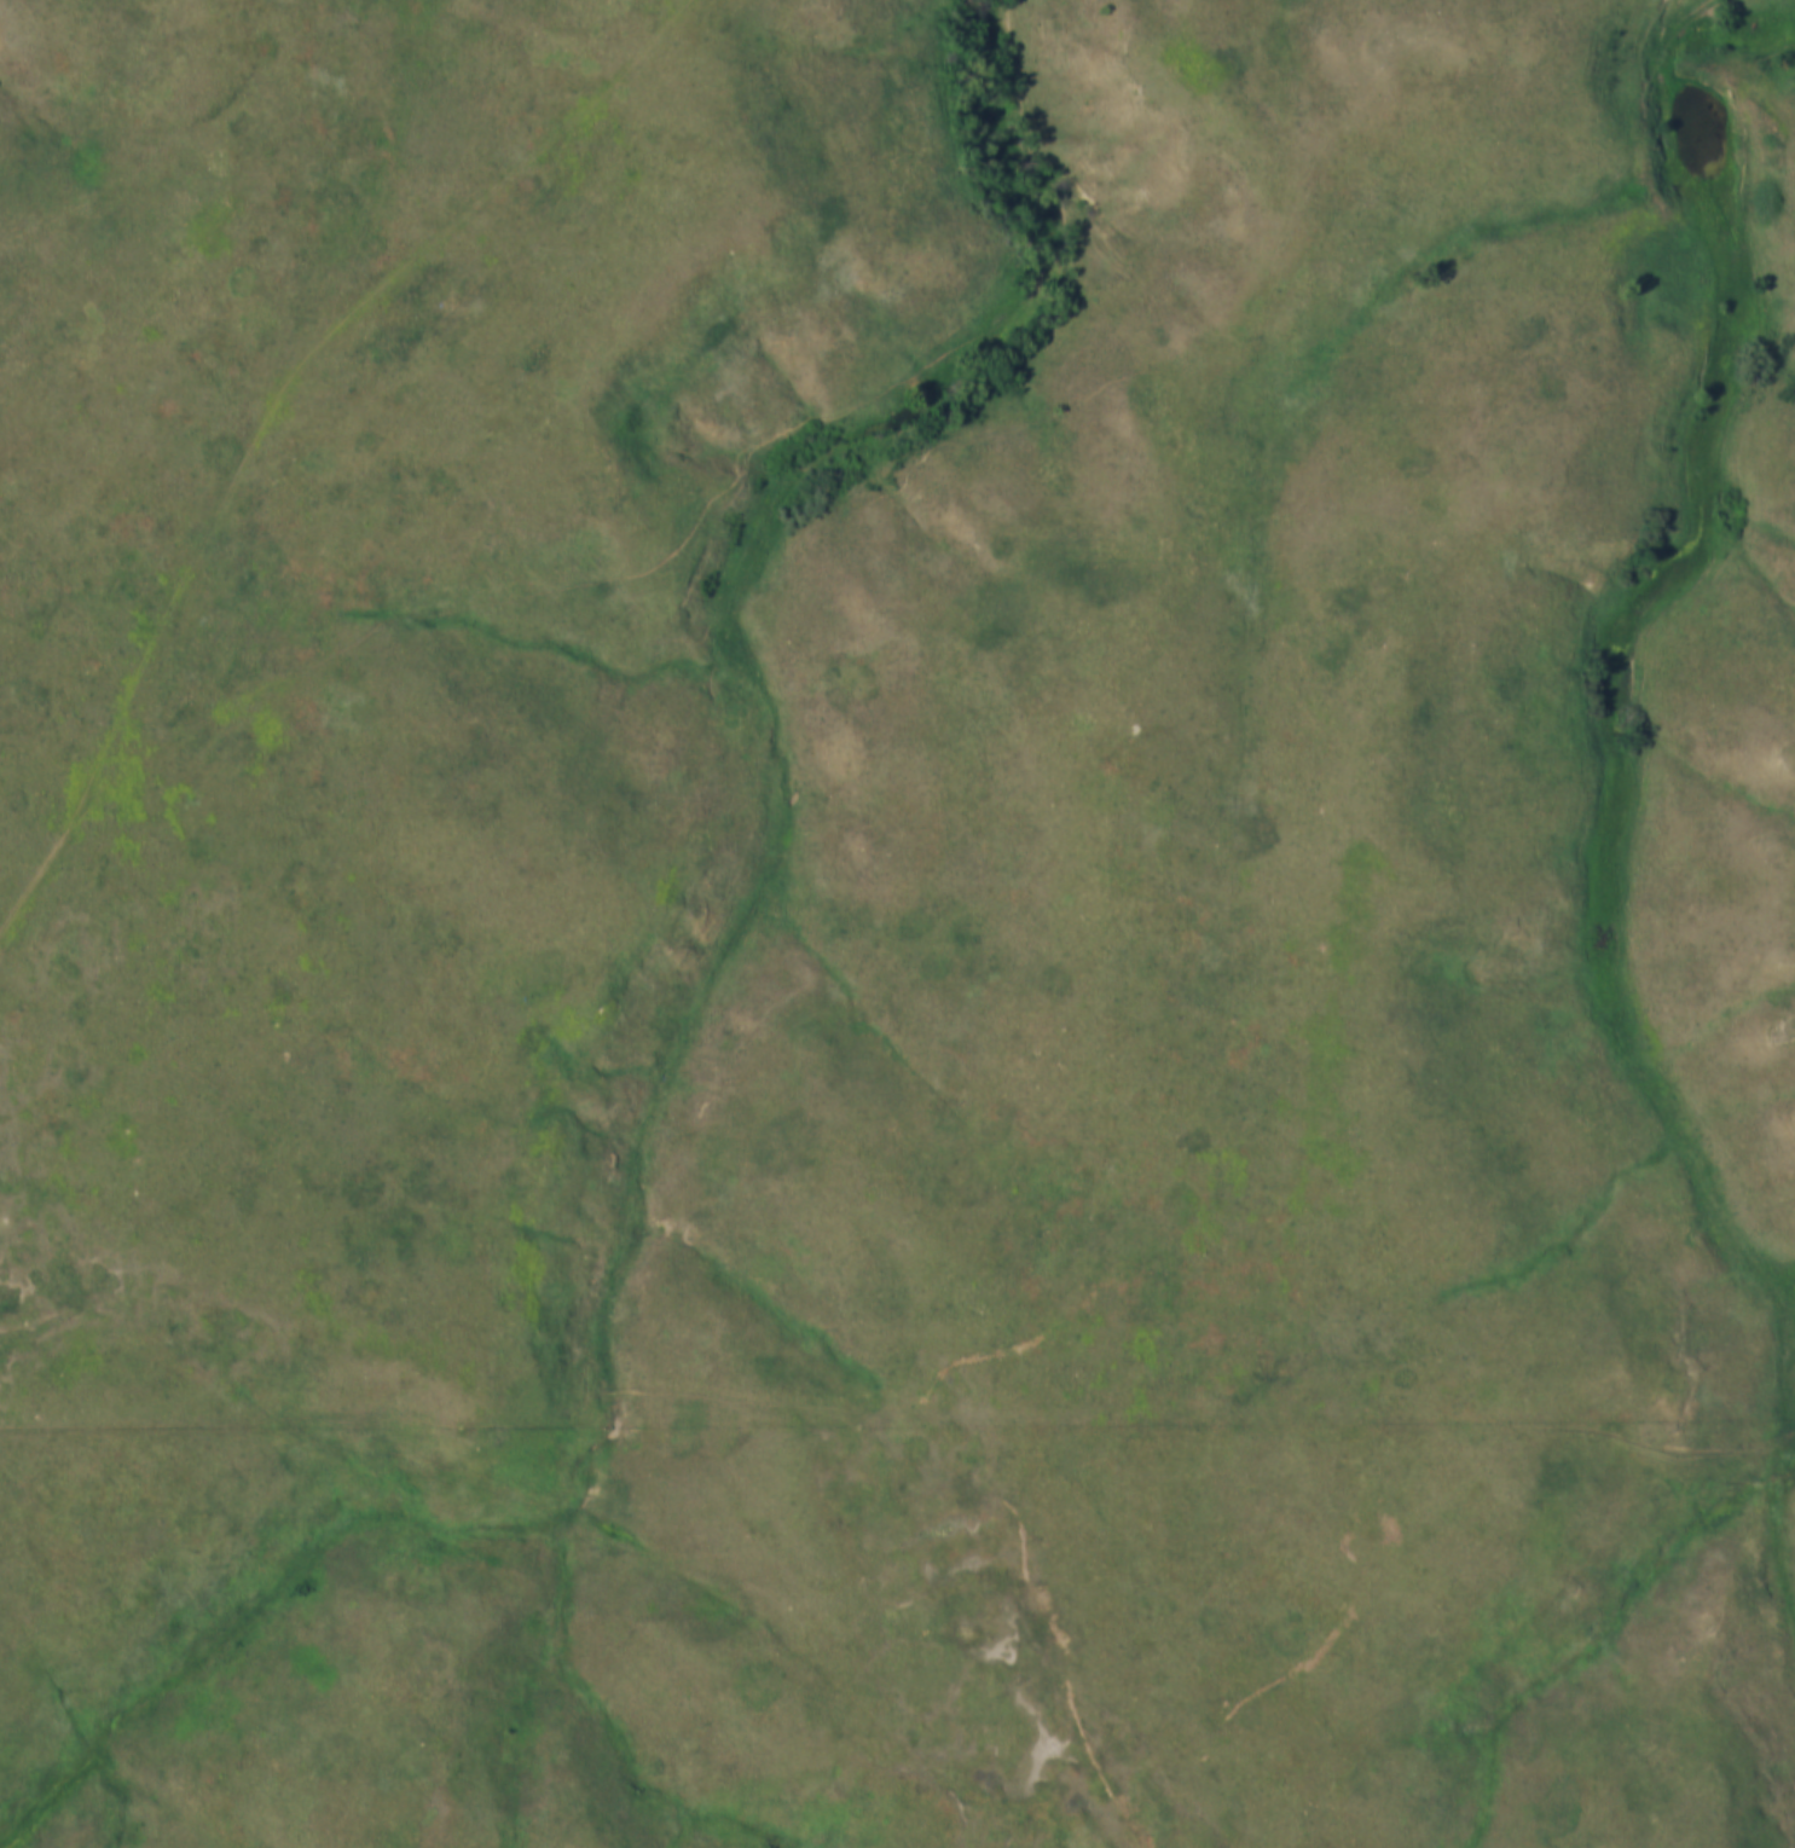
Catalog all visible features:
road: (267, 416)
road: (899, 1431)

